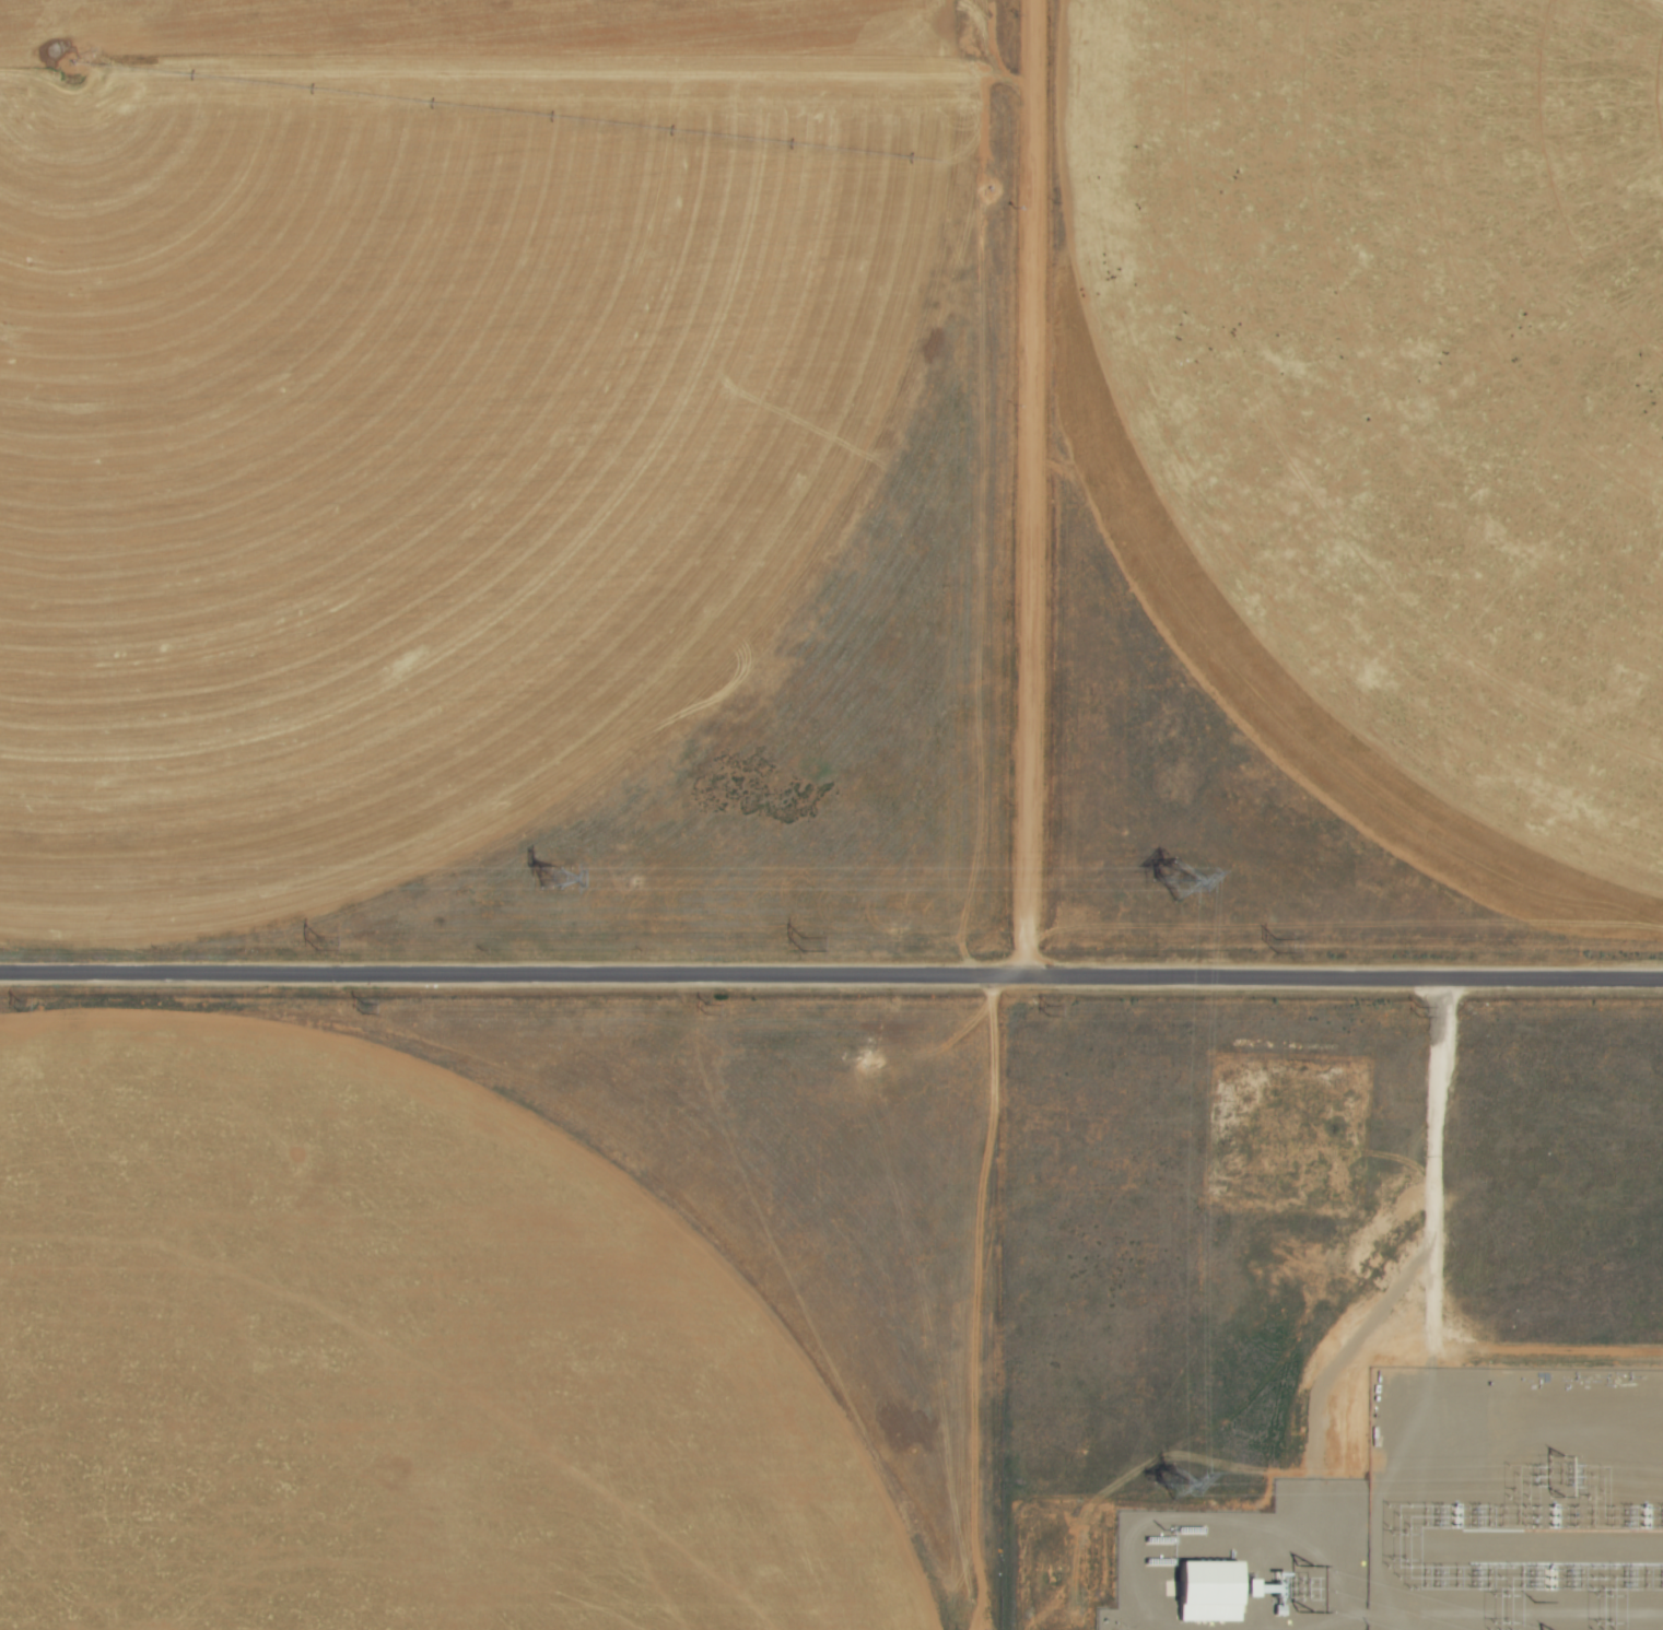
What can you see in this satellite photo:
road: (1029, 488)
power tower: (549, 877)
power tower: (1172, 880)
power tower: (311, 942)
power tower: (798, 946)
power tower: (1272, 949)
road: (831, 973)
power tower: (12, 1007)
power tower: (356, 1009)
power tower: (701, 1012)
power tower: (1043, 1012)
power tower: (1420, 1015)
power tower: (1171, 1480)
power substation: (1437, 1518)
building: (1214, 1591)

